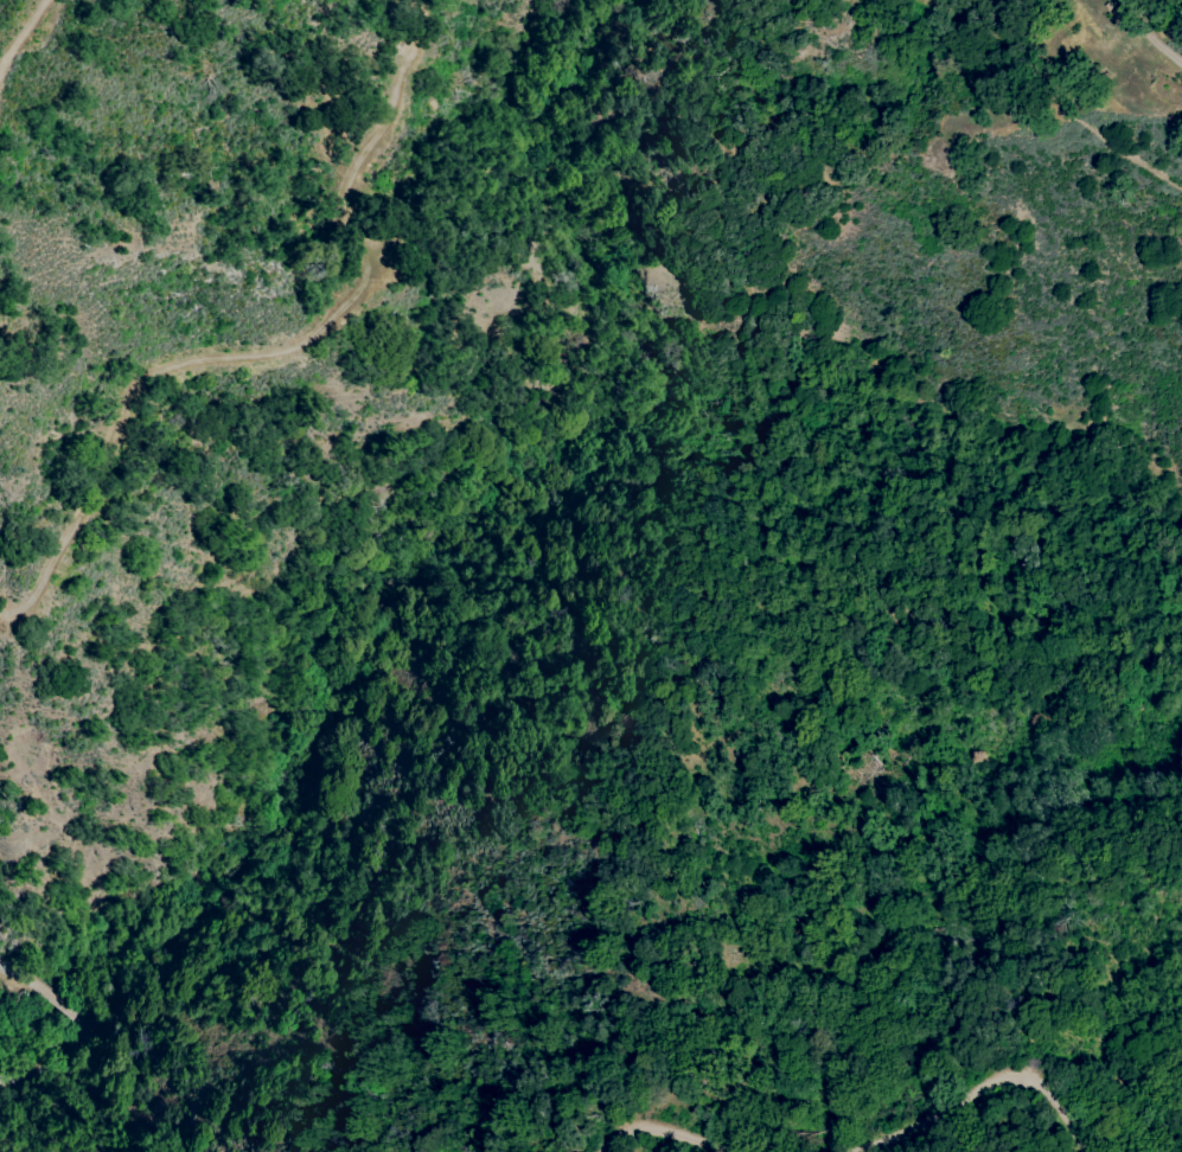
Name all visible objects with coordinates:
road: (21, 36)
road: (1148, 36)
road: (279, 351)
road: (95, 1024)

